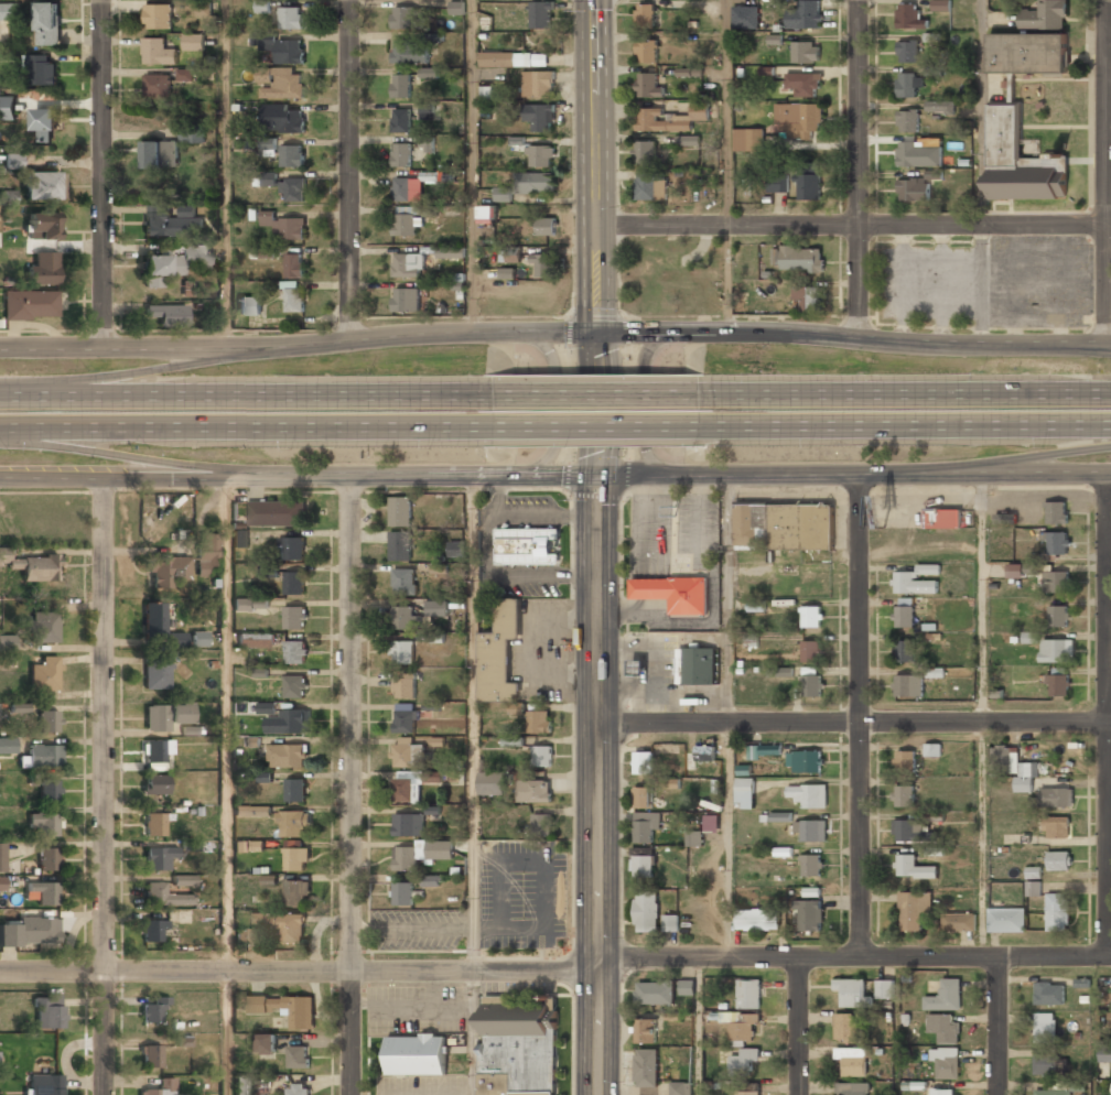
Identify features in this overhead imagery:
building: (262, 6)
building: (941, 6)
building: (9, 13)
building: (158, 15)
building: (541, 15)
building: (805, 15)
building: (908, 15)
building: (645, 17)
building: (1045, 17)
building: (746, 18)
building: (291, 19)
building: (405, 19)
building: (47, 24)
building: (193, 43)
building: (283, 50)
building: (158, 52)
building: (907, 52)
building: (646, 53)
building: (806, 53)
building: (1027, 54)
building: (410, 55)
building: (514, 59)
building: (42, 72)
building: (429, 72)
building: (185, 75)
building: (280, 84)
building: (538, 85)
building: (802, 85)
building: (158, 86)
building: (401, 86)
building: (907, 86)
building: (648, 87)
building: (8, 107)
building: (940, 108)
building: (428, 112)
road: (980, 112)
building: (540, 119)
building: (282, 120)
building: (669, 120)
building: (798, 120)
building: (45, 121)
building: (401, 121)
building: (907, 121)
building: (193, 133)
building: (690, 140)
building: (747, 141)
building: (427, 147)
building: (268, 149)
building: (644, 153)
building: (160, 155)
building: (918, 155)
building: (401, 156)
building: (540, 156)
building: (291, 158)
building: (13, 161)
building: (1020, 161)
road: (468, 166)
road: (596, 166)
road: (729, 166)
road: (859, 169)
road: (352, 170)
road: (1105, 171)
road: (103, 174)
road: (224, 174)
building: (269, 177)
building: (535, 183)
building: (808, 184)
building: (778, 185)
building: (41, 187)
building: (650, 187)
building: (408, 189)
building: (292, 191)
building: (913, 191)
building: (501, 194)
building: (8, 197)
building: (486, 215)
building: (165, 225)
road: (853, 225)
building: (405, 226)
building: (43, 227)
building: (284, 227)
building: (544, 227)
building: (9, 239)
building: (450, 253)
building: (802, 260)
building: (175, 264)
building: (294, 267)
building: (408, 267)
building: (541, 267)
building: (507, 273)
building: (807, 295)
building: (294, 297)
building: (406, 301)
building: (30, 306)
building: (250, 306)
building: (166, 316)
traffic signals: (598, 333)
road: (854, 338)
road: (299, 343)
road: (1051, 349)
road: (176, 367)
road: (904, 394)
road: (247, 395)
road: (596, 395)
road: (551, 402)
road: (597, 404)
road: (639, 405)
road: (903, 426)
road: (112, 427)
road: (593, 427)
road: (357, 429)
road: (1027, 457)
road: (131, 458)
road: (854, 474)
traffic signals: (597, 476)
road: (299, 477)
building: (399, 512)
building: (1056, 513)
building: (276, 514)
building: (941, 518)
building: (784, 525)
building: (240, 539)
building: (1057, 544)
building: (527, 545)
building: (399, 547)
building: (292, 549)
building: (454, 551)
building: (207, 556)
building: (9, 560)
building: (1020, 570)
building: (40, 571)
building: (166, 572)
building: (915, 581)
building: (1055, 582)
building: (294, 583)
building: (405, 583)
building: (673, 594)
building: (250, 604)
building: (756, 605)
building: (438, 609)
building: (905, 614)
building: (1058, 616)
building: (295, 617)
building: (812, 617)
building: (402, 618)
building: (152, 622)
building: (43, 629)
building: (1031, 637)
building: (198, 639)
building: (176, 640)
building: (256, 641)
building: (7, 642)
building: (295, 651)
building: (811, 651)
building: (905, 651)
building: (1056, 651)
building: (402, 653)
building: (499, 654)
building: (699, 666)
building: (640, 672)
gas station: (640, 672)
building: (785, 672)
building: (935, 672)
building: (44, 676)
building: (157, 676)
building: (811, 683)
building: (1058, 685)
building: (295, 686)
building: (405, 686)
building: (907, 686)
building: (267, 707)
road: (1108, 714)
road: (859, 715)
road: (984, 715)
road: (722, 716)
building: (166, 718)
road: (854, 722)
building: (288, 723)
building: (406, 723)
building: (48, 724)
road: (474, 724)
building: (539, 724)
road: (228, 725)
building: (513, 740)
building: (8, 746)
building: (770, 749)
building: (931, 750)
building: (157, 754)
building: (408, 754)
building: (287, 756)
building: (702, 756)
building: (541, 758)
building: (41, 759)
building: (805, 760)
building: (1005, 760)
building: (904, 762)
building: (643, 763)
building: (1023, 783)
road: (598, 784)
road: (109, 785)
road: (352, 785)
building: (493, 785)
building: (155, 787)
building: (407, 788)
building: (47, 792)
building: (295, 792)
building: (533, 792)
building: (745, 793)
building: (808, 794)
building: (903, 796)
building: (644, 798)
building: (1055, 799)
building: (252, 811)
building: (781, 816)
building: (712, 823)
building: (43, 825)
building: (154, 825)
building: (293, 825)
building: (409, 825)
building: (541, 825)
building: (646, 827)
building: (1056, 828)
building: (811, 831)
building: (906, 832)
building: (694, 839)
building: (249, 846)
building: (439, 850)
building: (934, 850)
building: (1, 858)
building: (160, 858)
building: (406, 859)
building: (47, 860)
building: (296, 860)
building: (1058, 861)
building: (810, 866)
building: (643, 867)
building: (912, 869)
building: (184, 881)
building: (434, 881)
building: (2, 883)
building: (1034, 888)
building: (42, 895)
building: (296, 895)
building: (402, 896)
building: (164, 897)
building: (912, 911)
building: (1058, 912)
building: (646, 913)
building: (809, 917)
building: (1005, 920)
building: (758, 921)
building: (959, 923)
building: (670, 924)
building: (282, 926)
building: (152, 932)
building: (30, 933)
building: (241, 936)
road: (555, 973)
building: (687, 988)
building: (885, 990)
building: (851, 991)
building: (1049, 993)
building: (654, 994)
building: (748, 994)
building: (946, 996)
building: (284, 1009)
building: (152, 1012)
building: (48, 1013)
building: (1110, 1017)
building: (1045, 1024)
road: (897, 1026)
road: (997, 1026)
road: (699, 1027)
road: (799, 1027)
building: (741, 1028)
building: (848, 1028)
building: (943, 1028)
building: (645, 1032)
road: (228, 1033)
road: (473, 1033)
building: (267, 1044)
building: (518, 1048)
building: (416, 1056)
building: (1105, 1056)
building: (150, 1059)
building: (299, 1059)
building: (743, 1061)
building: (852, 1062)
building: (947, 1064)
building: (1045, 1064)
building: (646, 1070)
building: (51, 1086)
building: (244, 1086)
building: (157, 1087)
building: (680, 1088)
building: (853, 1088)
building: (299, 1089)
building: (943, 1092)
building: (746, 1093)
building: (1050, 1093)

